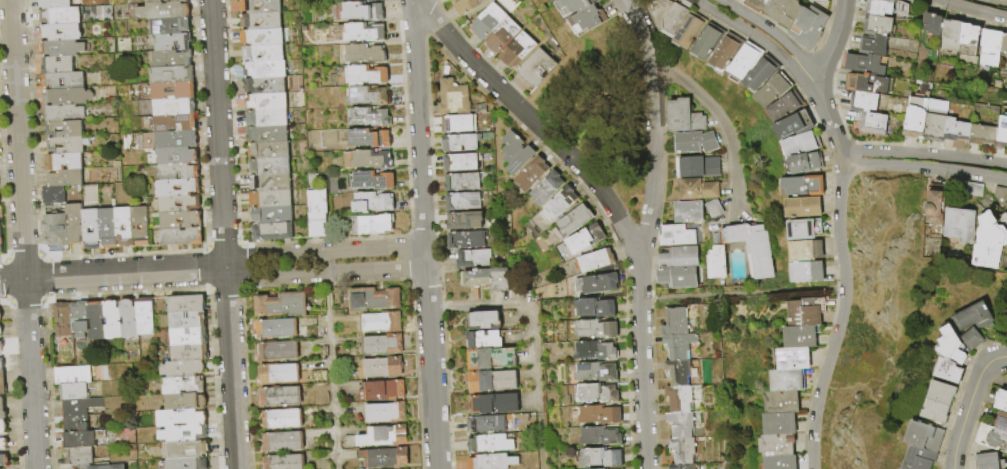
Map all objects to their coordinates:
building: (180, 0)
building: (446, 0)
building: (553, 0)
building: (821, 0)
building: (156, 1)
road: (999, 1)
road: (626, 2)
building: (759, 3)
building: (56, 4)
road: (411, 4)
building: (573, 5)
building: (272, 6)
building: (464, 6)
building: (880, 7)
road: (973, 10)
building: (166, 11)
building: (360, 11)
building: (783, 11)
building: (667, 15)
building: (62, 16)
building: (586, 19)
building: (484, 21)
building: (273, 23)
building: (931, 23)
building: (808, 25)
building: (877, 25)
building: (171, 26)
building: (689, 30)
road: (772, 31)
building: (62, 32)
building: (362, 32)
building: (967, 34)
building: (498, 35)
road: (642, 35)
building: (950, 35)
road: (753, 36)
building: (263, 37)
building: (707, 41)
building: (175, 42)
road: (834, 42)
building: (873, 45)
building: (1004, 45)
building: (990, 47)
building: (63, 48)
building: (514, 50)
building: (726, 51)
building: (364, 54)
building: (275, 55)
road: (464, 55)
building: (174, 58)
building: (744, 60)
building: (863, 63)
building: (59, 65)
building: (533, 68)
building: (267, 70)
building: (760, 73)
building: (366, 74)
building: (174, 75)
building: (75, 83)
building: (867, 83)
building: (277, 86)
building: (772, 90)
building: (175, 91)
building: (366, 94)
building: (69, 97)
building: (452, 98)
road: (652, 101)
building: (267, 102)
building: (864, 102)
building: (783, 106)
building: (177, 107)
building: (64, 113)
road: (827, 113)
building: (916, 116)
building: (370, 117)
building: (680, 117)
building: (268, 118)
building: (175, 123)
building: (457, 123)
building: (873, 123)
road: (723, 124)
building: (793, 124)
road: (418, 126)
building: (935, 126)
building: (66, 129)
building: (956, 130)
building: (1001, 132)
building: (279, 134)
building: (982, 135)
building: (369, 138)
building: (172, 140)
building: (459, 142)
building: (691, 143)
building: (799, 143)
building: (67, 145)
building: (270, 151)
building: (512, 153)
road: (923, 154)
building: (179, 156)
building: (372, 160)
building: (65, 162)
building: (460, 162)
building: (803, 162)
road: (884, 165)
building: (281, 168)
building: (687, 168)
building: (708, 168)
road: (585, 170)
building: (179, 172)
building: (526, 173)
road: (967, 173)
building: (67, 179)
building: (374, 181)
building: (460, 182)
building: (271, 183)
building: (802, 185)
building: (542, 187)
building: (167, 188)
building: (975, 188)
building: (694, 190)
road: (652, 193)
building: (1000, 194)
building: (55, 196)
building: (0, 199)
building: (271, 199)
building: (461, 201)
building: (373, 203)
building: (192, 204)
building: (554, 205)
building: (804, 206)
building: (936, 208)
building: (709, 209)
building: (313, 212)
building: (686, 212)
building: (273, 216)
building: (961, 219)
building: (182, 220)
building: (462, 221)
building: (76, 223)
building: (568, 223)
building: (375, 226)
building: (125, 227)
building: (93, 228)
building: (110, 228)
building: (136, 228)
building: (804, 228)
building: (57, 232)
building: (274, 232)
road: (23, 234)
road: (223, 234)
building: (673, 236)
building: (183, 237)
building: (464, 239)
building: (581, 239)
building: (988, 240)
building: (1, 241)
building: (751, 248)
building: (805, 250)
road: (322, 251)
road: (425, 257)
building: (471, 258)
building: (675, 258)
building: (592, 261)
building: (717, 263)
building: (806, 271)
road: (112, 274)
road: (324, 274)
building: (673, 277)
building: (483, 279)
building: (595, 284)
park: (792, 290)
building: (368, 299)
building: (188, 303)
building: (280, 305)
building: (589, 308)
building: (806, 311)
road: (842, 311)
building: (2, 312)
park: (875, 315)
building: (146, 316)
road: (530, 316)
building: (1006, 318)
building: (65, 319)
building: (130, 319)
building: (82, 320)
building: (114, 320)
building: (189, 320)
building: (482, 321)
building: (98, 322)
building: (376, 322)
building: (674, 323)
building: (971, 324)
building: (273, 329)
building: (591, 330)
building: (1, 331)
building: (190, 336)
building: (801, 336)
building: (483, 341)
building: (377, 344)
building: (950, 346)
building: (2, 347)
building: (678, 347)
building: (275, 352)
building: (591, 352)
building: (191, 353)
road: (1002, 357)
building: (793, 358)
road: (641, 359)
road: (330, 360)
building: (489, 360)
building: (2, 365)
building: (377, 368)
building: (185, 369)
road: (431, 369)
building: (947, 372)
building: (592, 373)
building: (676, 373)
building: (277, 374)
building: (72, 375)
building: (788, 380)
building: (491, 382)
building: (3, 384)
building: (185, 386)
building: (379, 390)
building: (73, 392)
building: (941, 393)
building: (592, 394)
building: (278, 397)
building: (681, 398)
building: (1000, 399)
building: (782, 401)
building: (187, 402)
building: (493, 404)
building: (80, 406)
road: (966, 408)
building: (3, 409)
building: (381, 412)
building: (935, 412)
building: (595, 415)
building: (280, 420)
building: (1000, 421)
building: (780, 423)
building: (75, 424)
building: (199, 425)
building: (484, 425)
building: (679, 425)
building: (4, 427)
building: (990, 435)
building: (379, 436)
building: (596, 437)
building: (924, 437)
building: (82, 439)
building: (280, 442)
building: (4, 444)
building: (488, 444)
building: (777, 444)
road: (541, 447)
building: (188, 448)
building: (1005, 450)
building: (681, 451)
building: (78, 456)
building: (382, 458)
building: (597, 458)
building: (4, 459)
building: (919, 459)
building: (988, 461)
building: (282, 462)
building: (490, 462)
building: (780, 462)
building: (187, 464)
building: (107, 467)
building: (682, 467)

